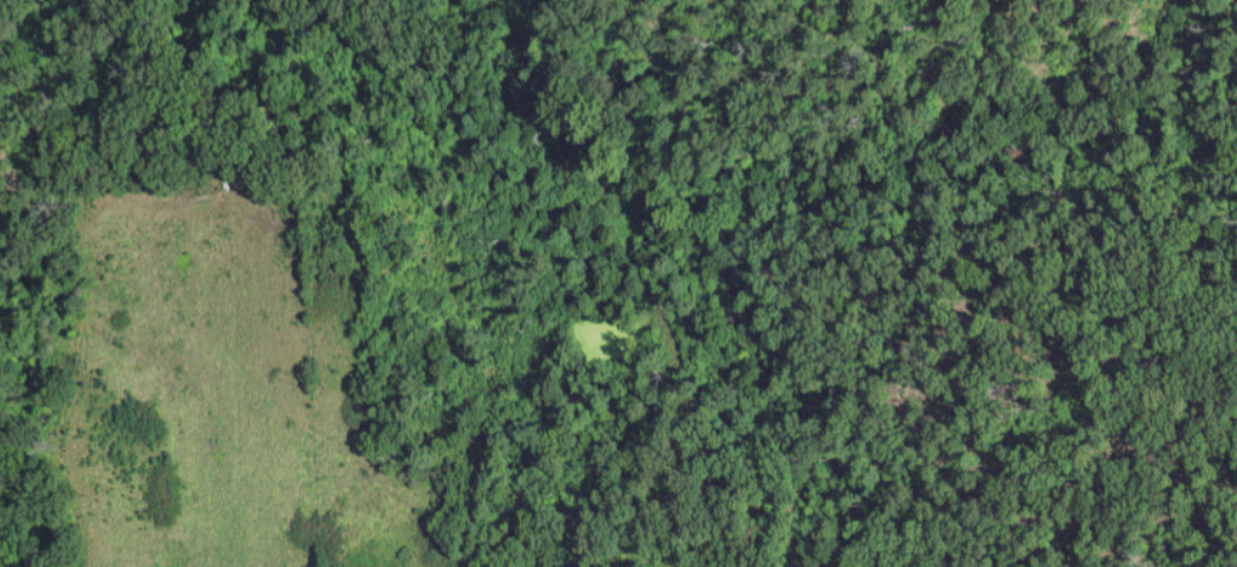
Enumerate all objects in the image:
road: (1098, 282)

